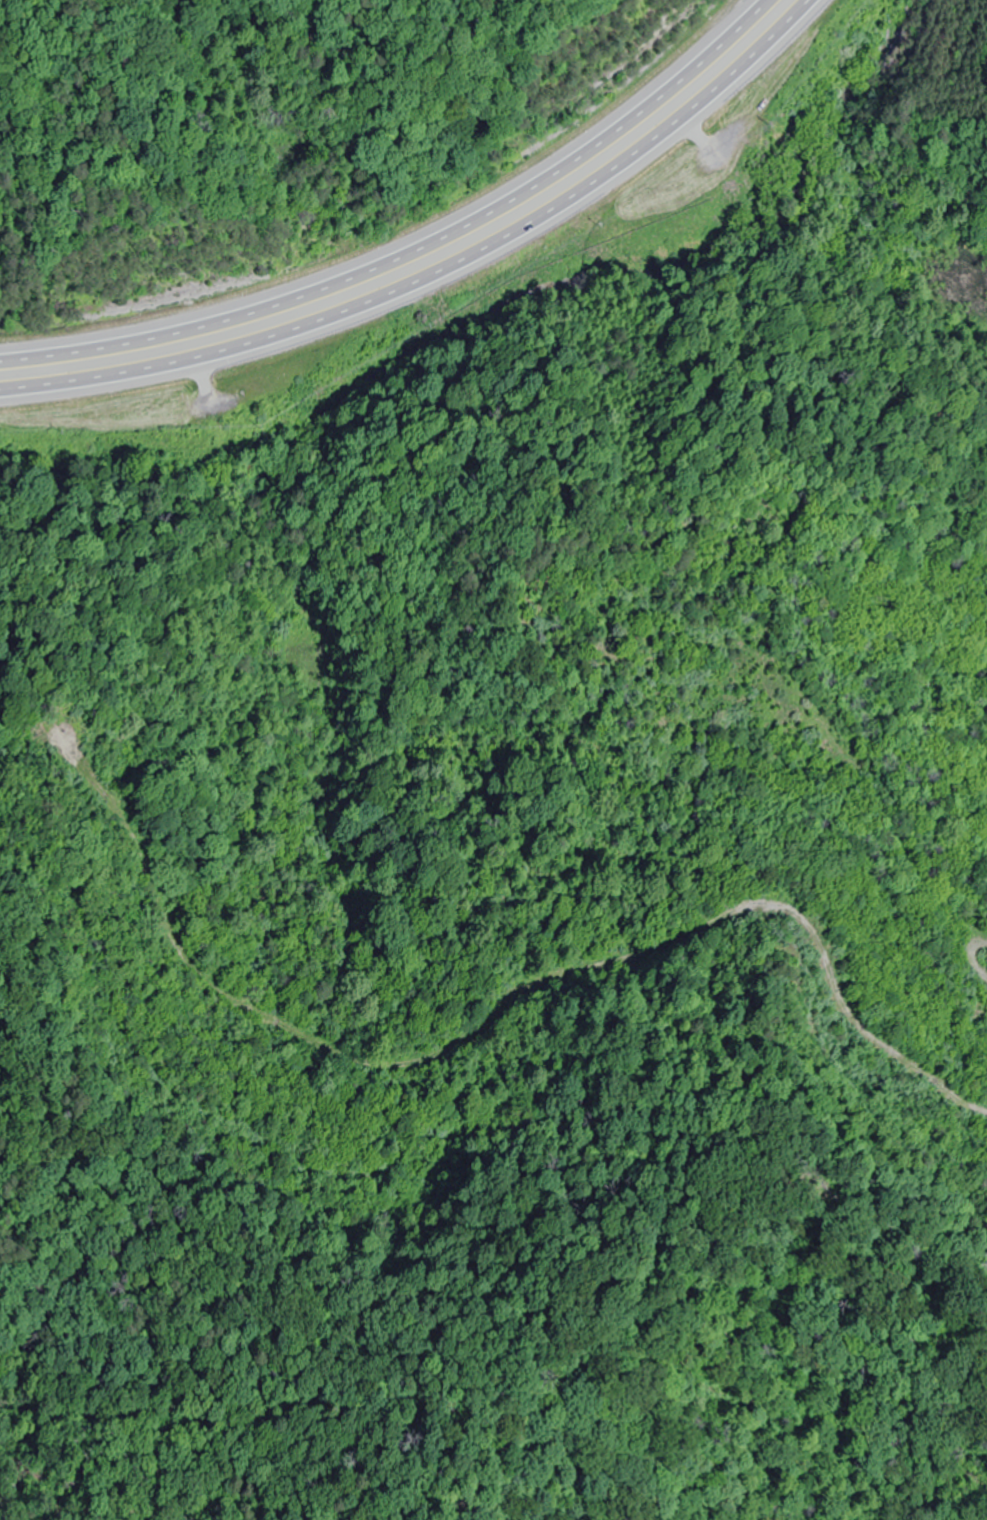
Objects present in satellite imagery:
road: (419, 251)
road: (443, 270)

